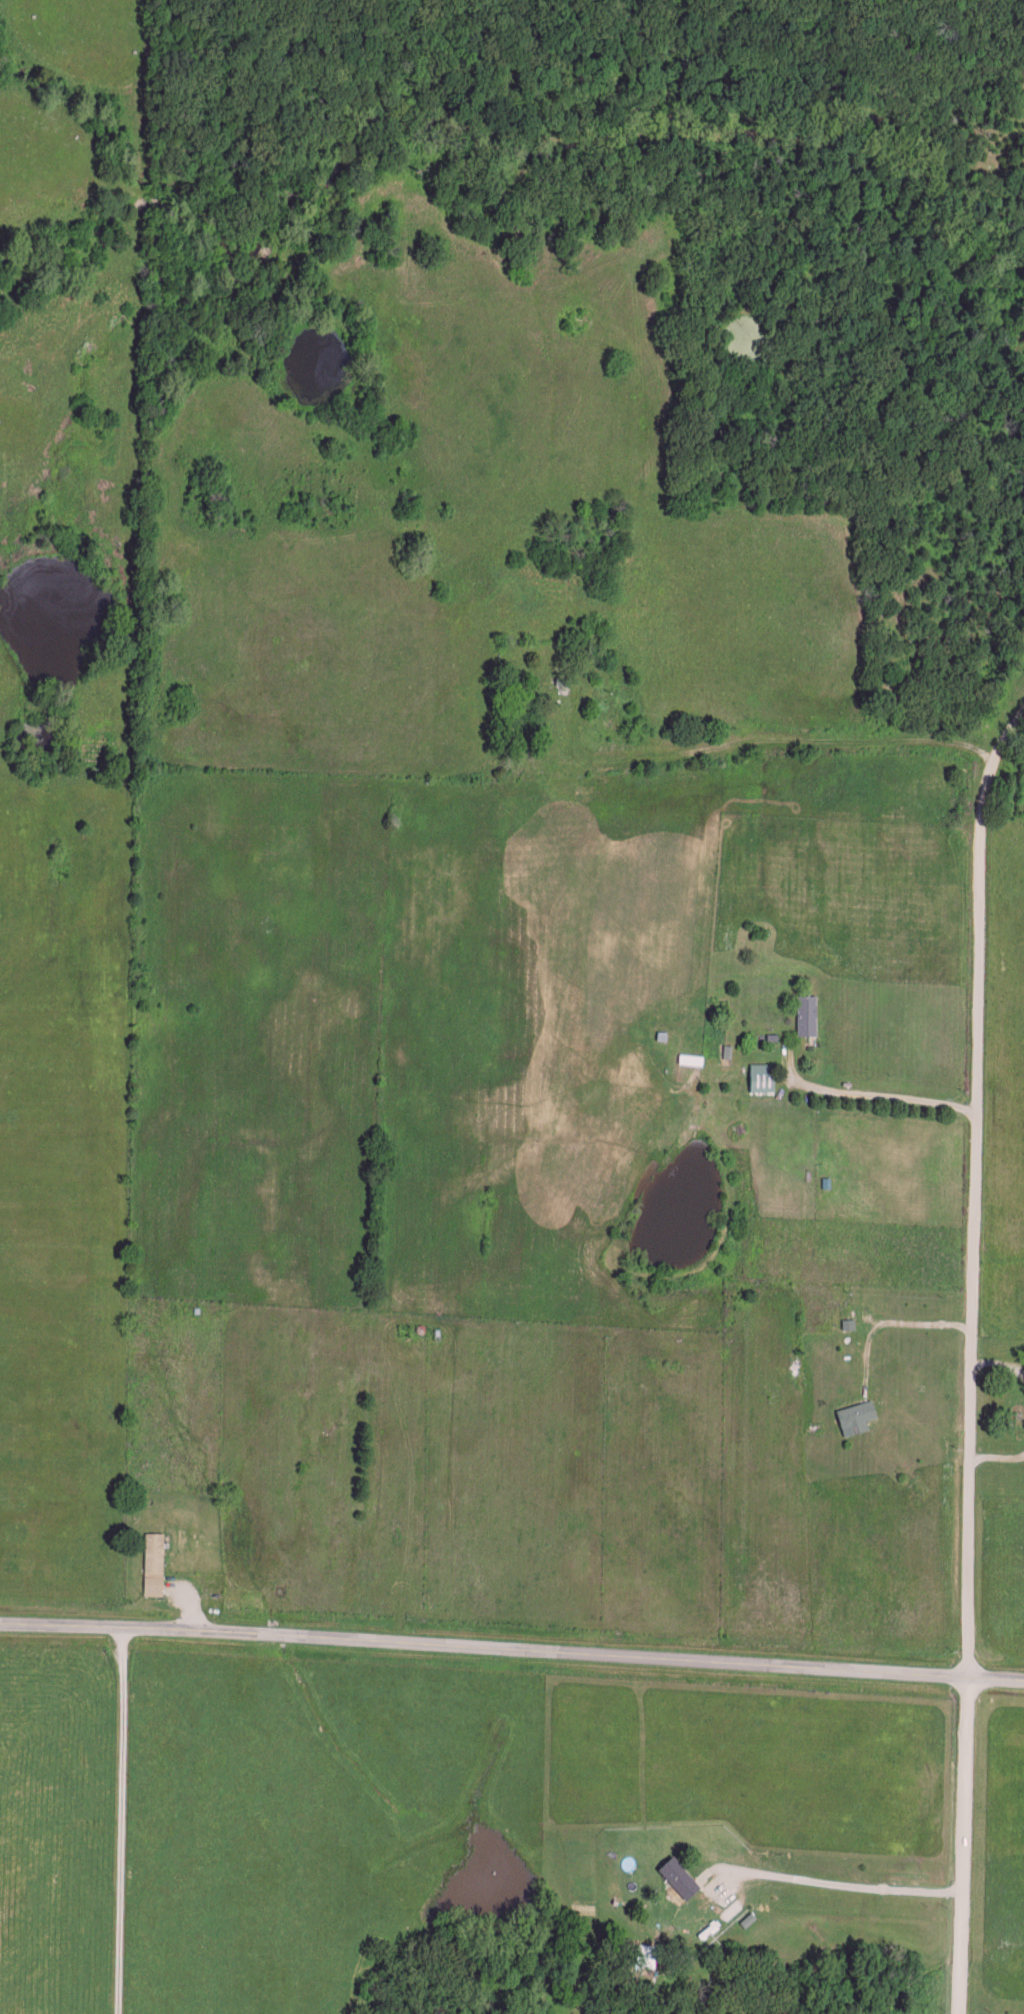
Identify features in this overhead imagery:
road: (755, 742)
building: (807, 1012)
building: (762, 1075)
road: (862, 1100)
road: (900, 1320)
road: (972, 1357)
road: (999, 1364)
building: (856, 1415)
road: (998, 1459)
building: (153, 1561)
road: (512, 1651)
road: (123, 1821)
building: (678, 1875)
road: (828, 1886)

